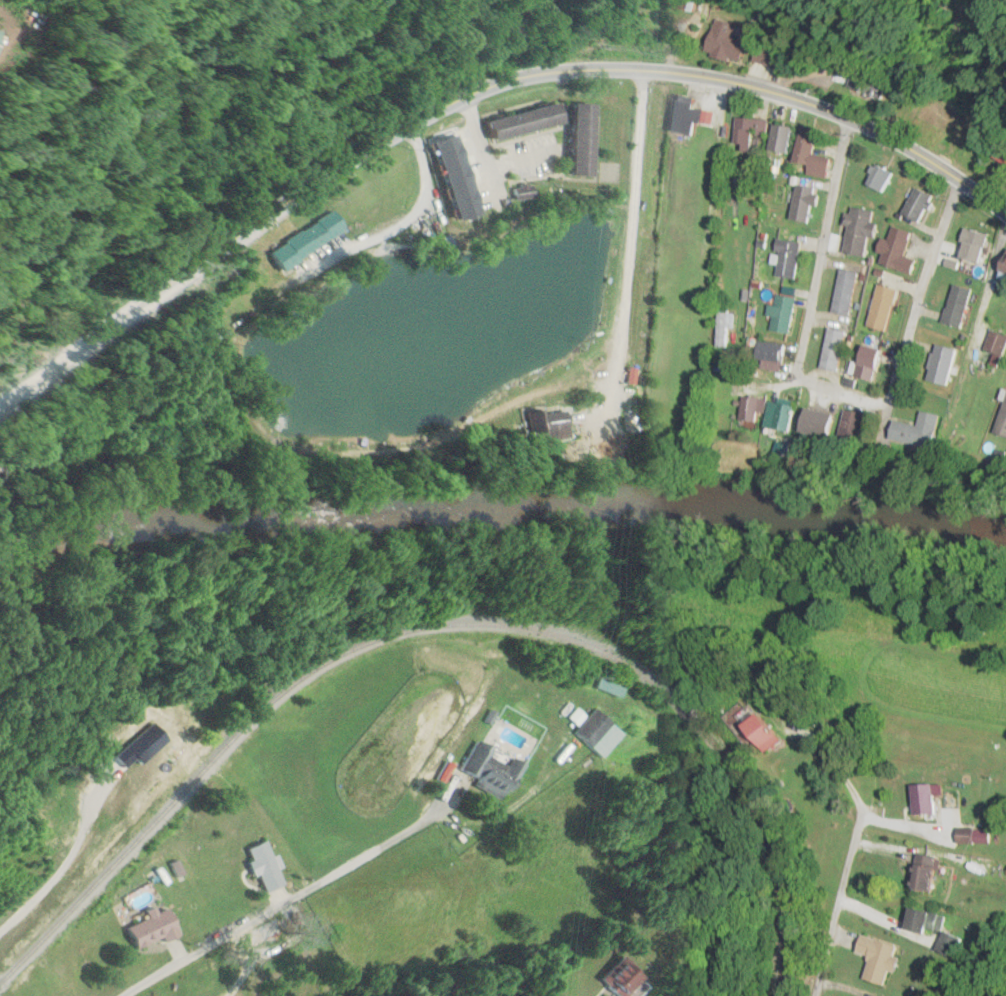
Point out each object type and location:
building: (20, 33)
building: (728, 41)
building: (772, 56)
building: (871, 83)
road: (474, 90)
building: (688, 114)
building: (960, 119)
building: (529, 121)
building: (752, 131)
building: (586, 138)
building: (786, 138)
building: (815, 152)
building: (1002, 153)
building: (459, 177)
building: (884, 177)
building: (923, 202)
building: (808, 203)
building: (864, 230)
building: (310, 239)
building: (980, 244)
building: (901, 248)
building: (791, 257)
building: (1004, 273)
building: (848, 291)
building: (962, 305)
building: (887, 306)
building: (786, 314)
building: (728, 326)
building: (999, 342)
building: (837, 348)
building: (774, 353)
building: (874, 362)
building: (946, 363)
road: (834, 389)
building: (757, 408)
building: (785, 415)
road: (40, 419)
building: (549, 421)
building: (826, 422)
building: (857, 425)
building: (1004, 427)
building: (921, 431)
road: (4, 487)
river: (499, 505)
railway: (440, 626)
power tower: (580, 677)
building: (596, 730)
building: (771, 733)
building: (492, 770)
building: (931, 799)
building: (972, 835)
building: (267, 864)
building: (933, 876)
road: (837, 905)
road: (266, 912)
building: (932, 920)
building: (155, 928)
building: (950, 943)
building: (883, 957)
building: (637, 977)

